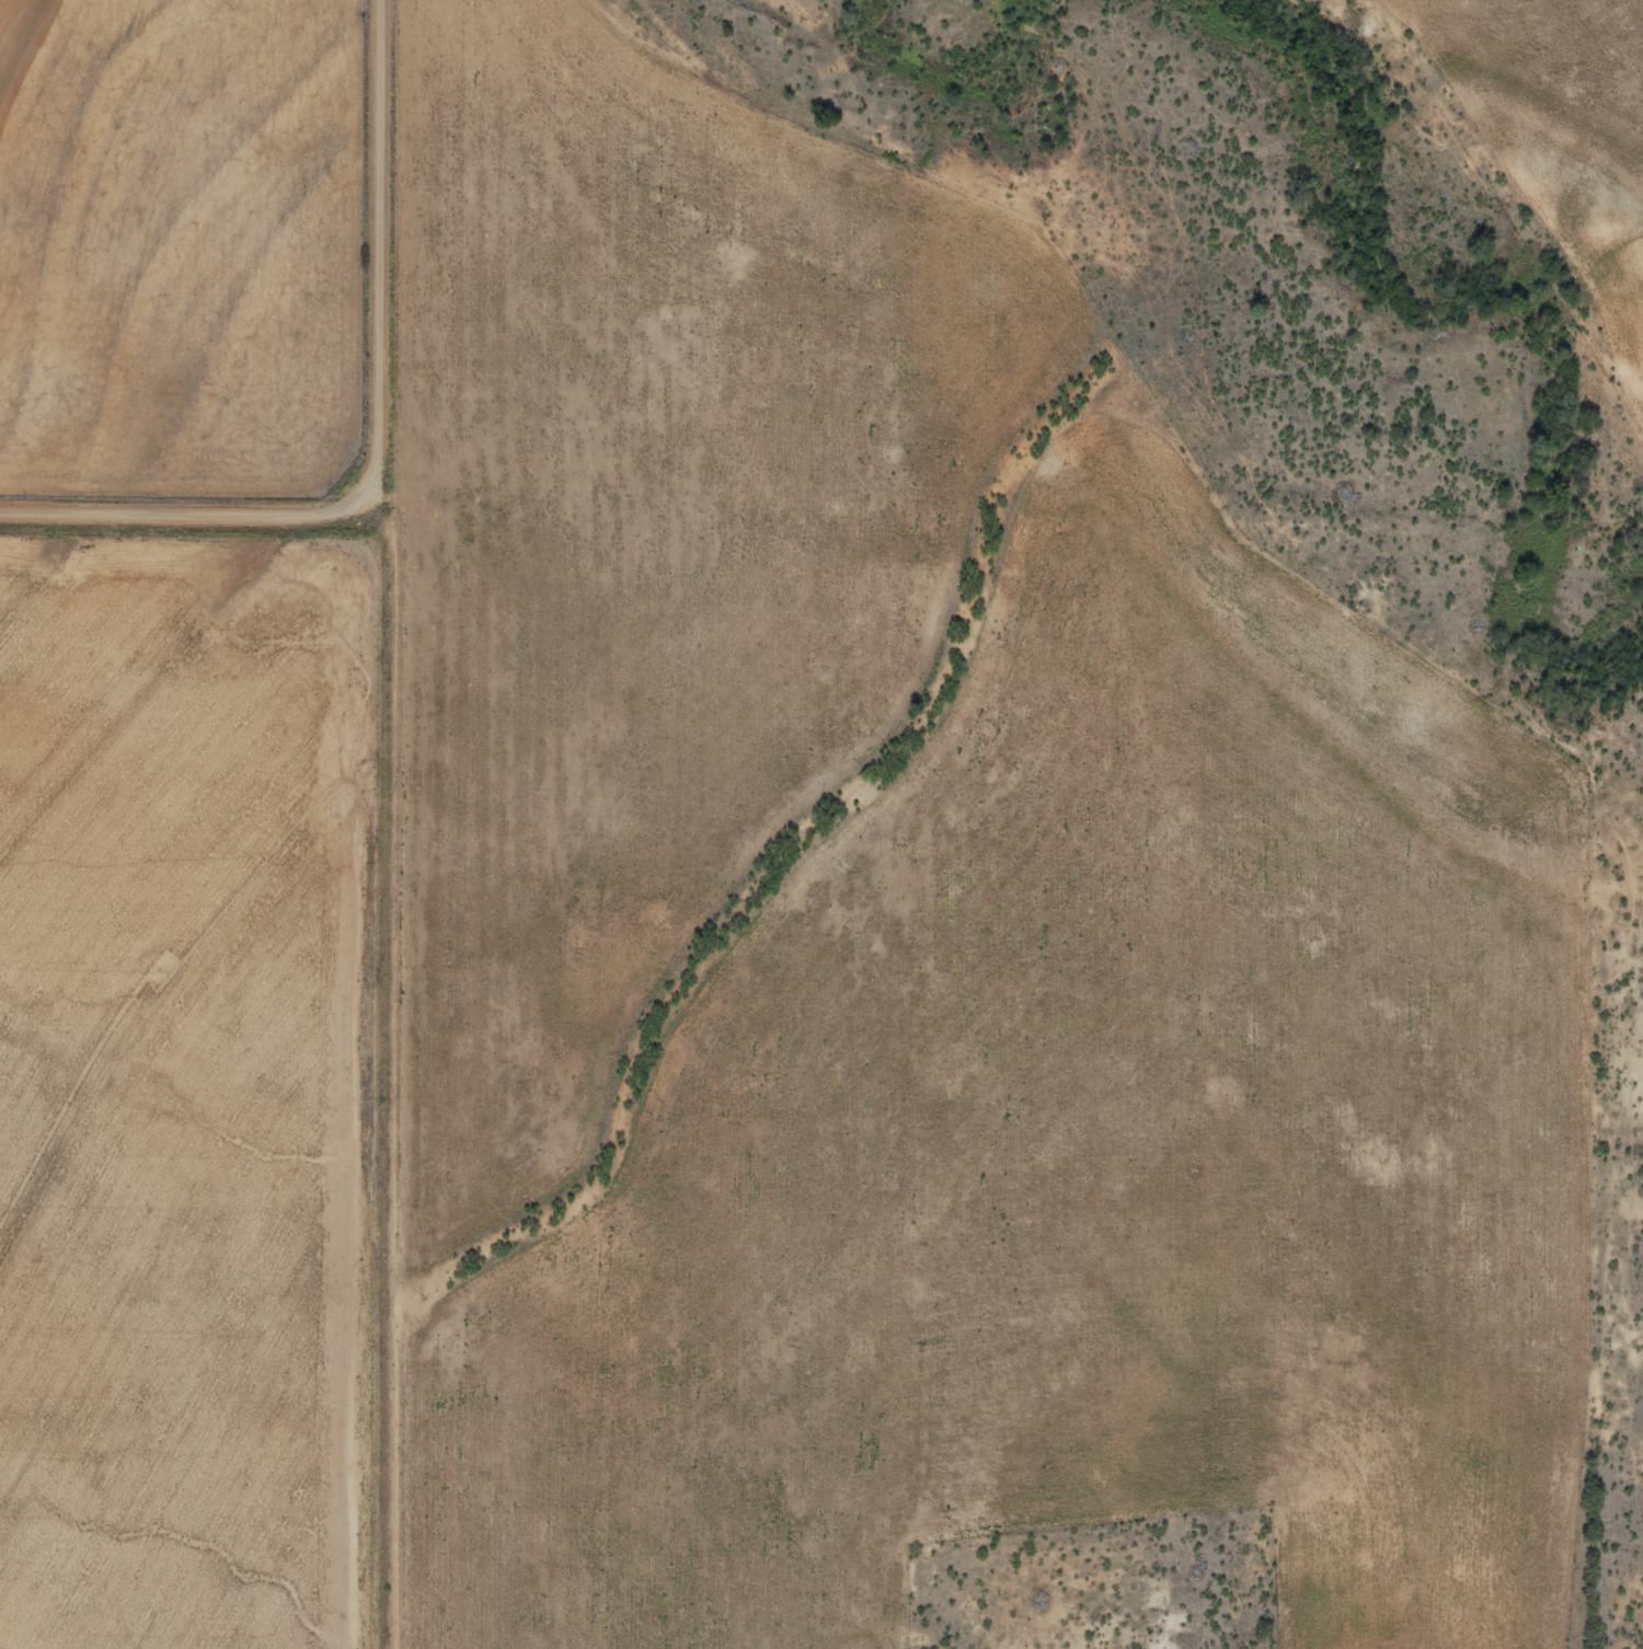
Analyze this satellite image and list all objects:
road: (379, 429)

